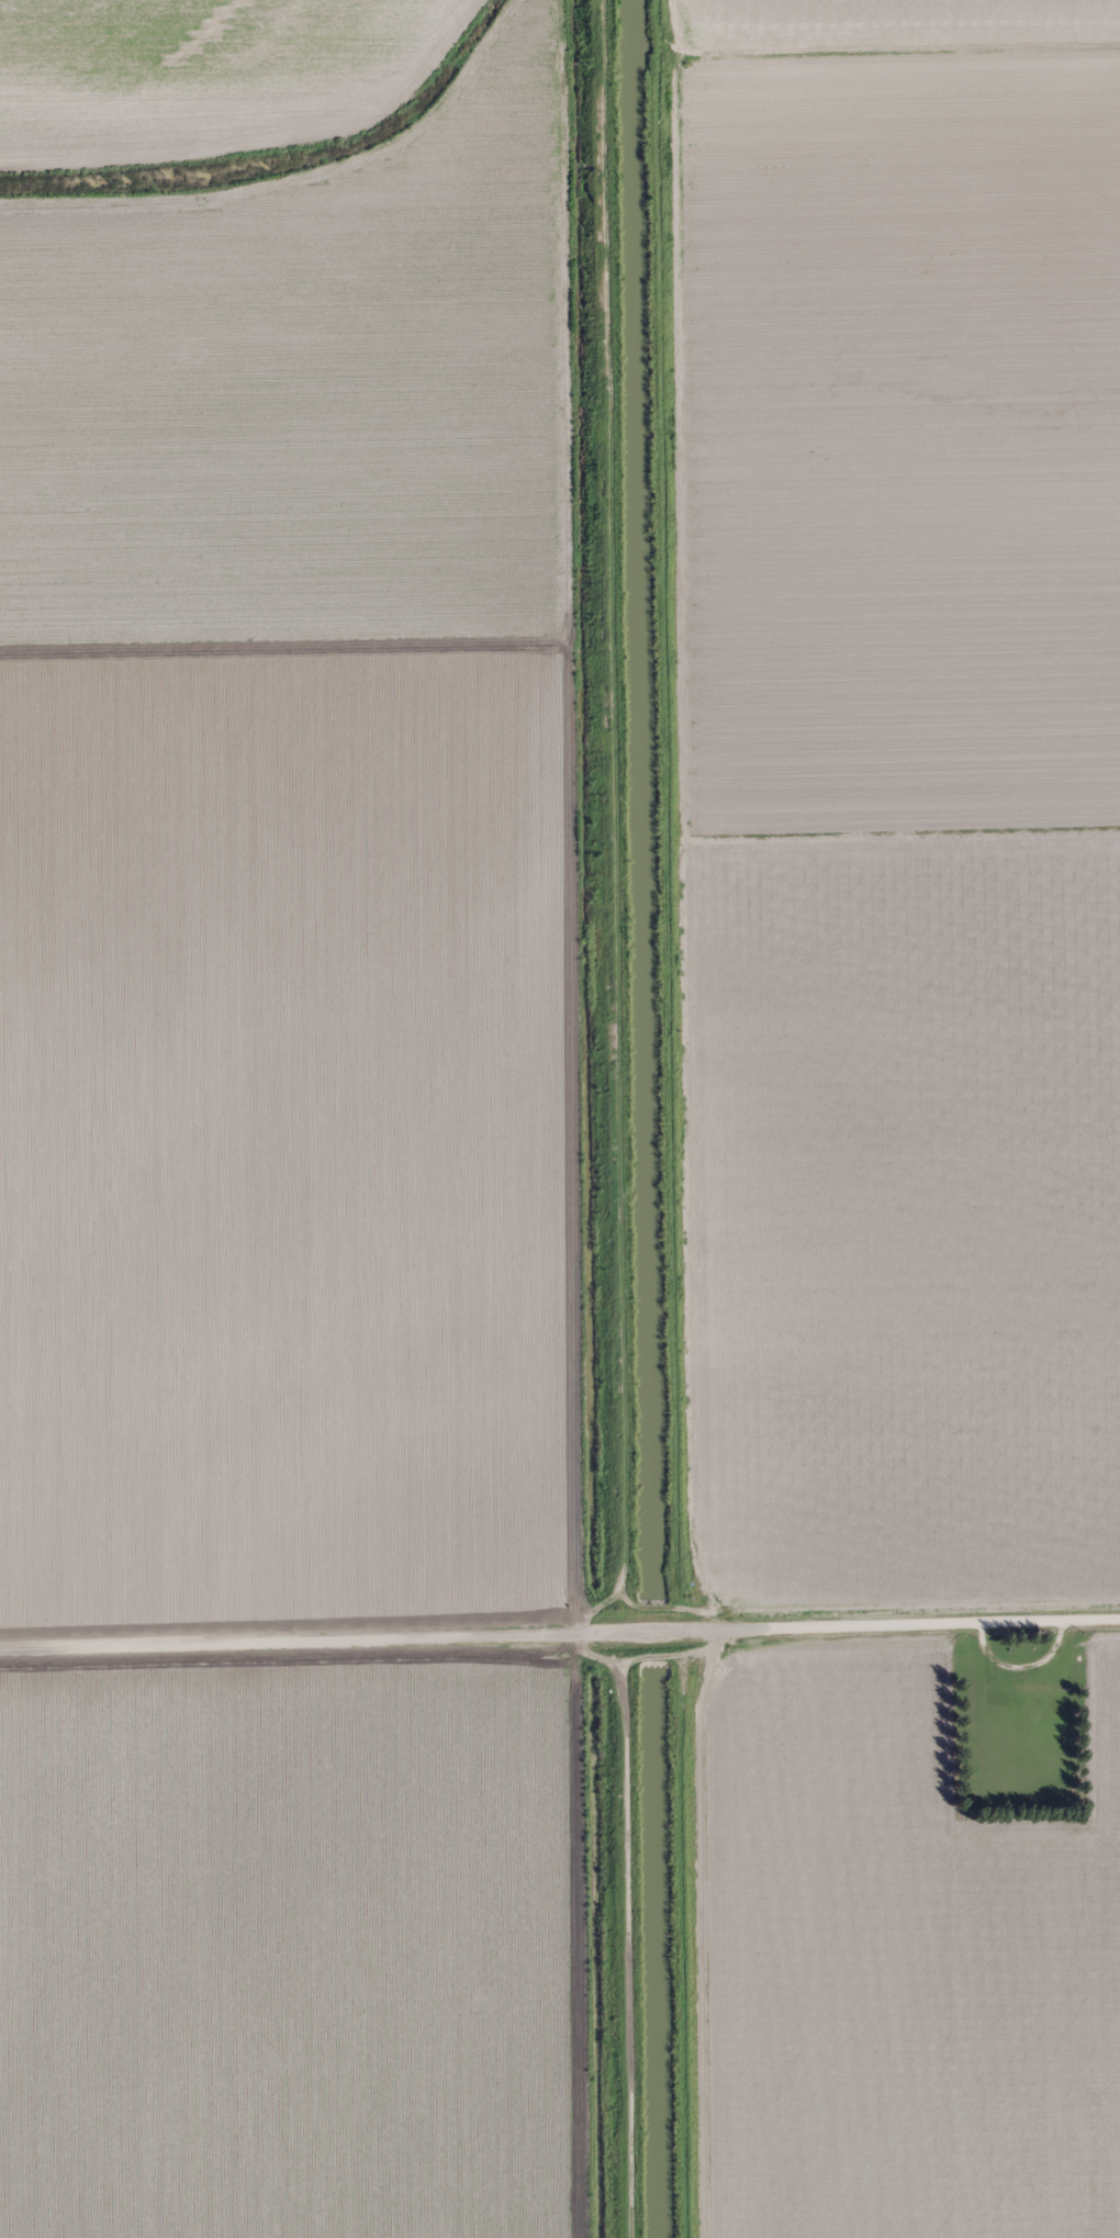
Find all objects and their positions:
road: (607, 815)
road: (558, 1632)
building: (1039, 1690)

